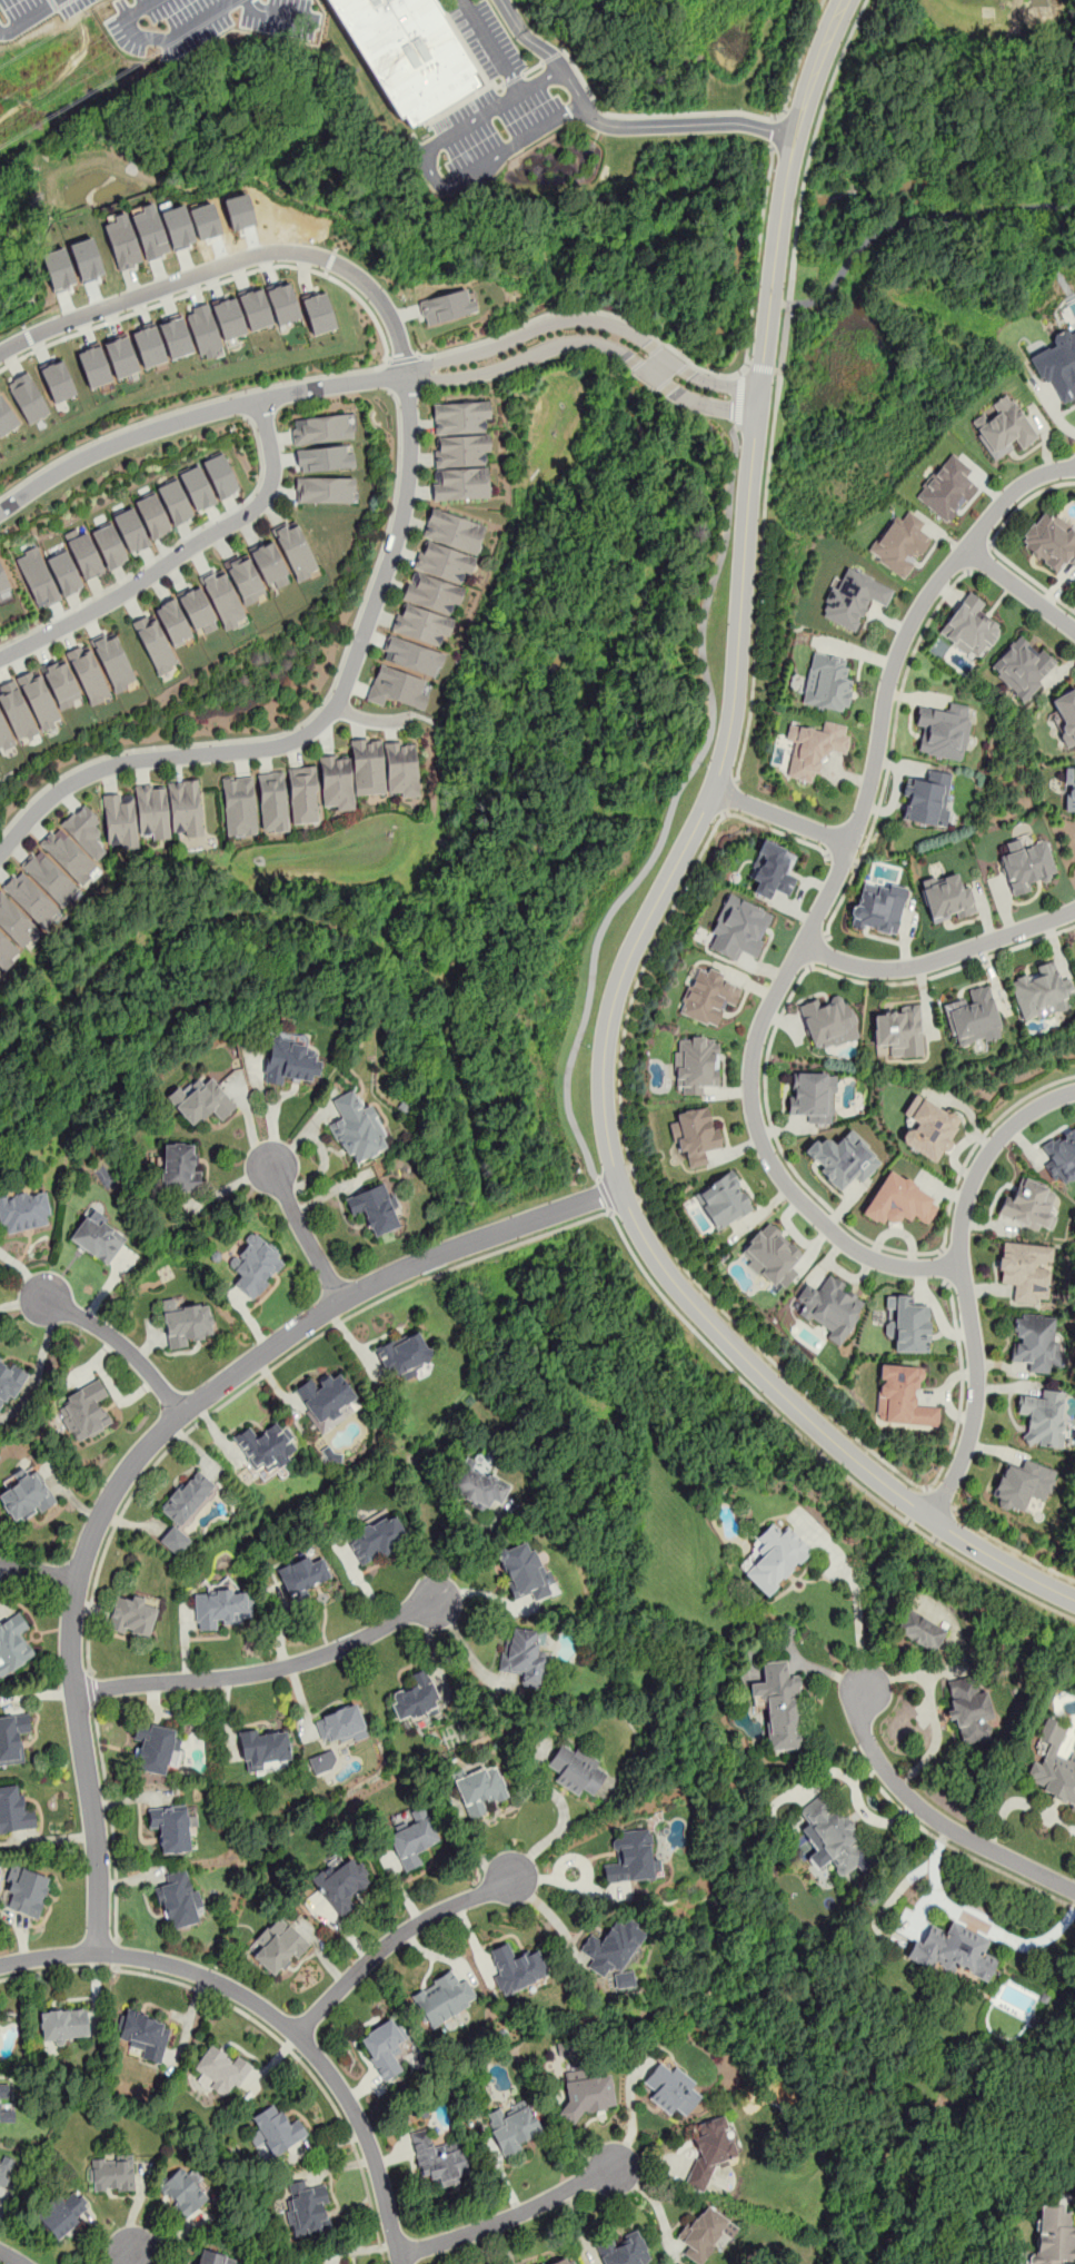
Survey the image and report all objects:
road: (137, 9)
road: (29, 17)
parking lot: (167, 22)
road: (173, 33)
road: (492, 46)
building: (407, 52)
road: (534, 67)
parking lot: (497, 99)
road: (717, 111)
road: (619, 127)
road: (777, 130)
road: (810, 148)
park: (930, 164)
road: (431, 174)
building: (176, 225)
road: (882, 226)
building: (150, 231)
building: (122, 241)
building: (86, 258)
road: (230, 261)
building: (57, 268)
road: (213, 285)
road: (753, 286)
building: (282, 303)
building: (446, 306)
building: (255, 308)
building: (318, 313)
building: (229, 317)
road: (539, 317)
building: (205, 327)
road: (529, 330)
building: (176, 336)
building: (149, 345)
road: (676, 353)
building: (121, 355)
road: (405, 357)
road: (522, 359)
road: (671, 362)
building: (1057, 364)
building: (93, 365)
road: (760, 368)
road: (741, 370)
road: (390, 376)
road: (651, 376)
building: (57, 378)
road: (725, 385)
building: (28, 397)
road: (737, 401)
road: (246, 404)
road: (713, 405)
road: (188, 407)
building: (6, 418)
building: (460, 418)
building: (1002, 427)
building: (321, 429)
building: (461, 449)
building: (325, 458)
building: (221, 476)
building: (460, 484)
building: (198, 487)
building: (946, 488)
building: (325, 491)
building: (175, 502)
building: (153, 516)
road: (400, 520)
building: (131, 530)
building: (454, 530)
building: (1049, 540)
building: (898, 542)
road: (991, 542)
building: (110, 546)
road: (165, 551)
building: (83, 552)
building: (295, 552)
road: (178, 555)
road: (978, 555)
building: (444, 562)
building: (270, 565)
building: (64, 573)
building: (37, 576)
road: (759, 577)
building: (245, 579)
building: (3, 582)
road: (1021, 587)
building: (432, 592)
building: (850, 597)
building: (222, 599)
building: (197, 609)
building: (173, 622)
building: (421, 623)
building: (971, 627)
building: (155, 643)
building: (412, 655)
building: (113, 660)
building: (1022, 669)
building: (88, 673)
building: (61, 682)
building: (826, 682)
building: (396, 689)
building: (39, 699)
building: (16, 711)
road: (310, 715)
building: (1066, 715)
road: (371, 720)
building: (944, 730)
building: (4, 734)
building: (812, 748)
road: (892, 750)
building: (368, 765)
building: (400, 768)
building: (337, 781)
building: (1069, 791)
building: (302, 793)
road: (730, 794)
building: (926, 798)
building: (272, 800)
building: (239, 805)
building: (185, 807)
building: (152, 810)
road: (669, 811)
road: (782, 815)
building: (120, 819)
building: (84, 829)
building: (69, 856)
road: (843, 861)
building: (1027, 866)
building: (770, 870)
building: (50, 877)
road: (827, 894)
building: (946, 897)
building: (31, 899)
road: (657, 899)
building: (878, 907)
building: (14, 921)
building: (738, 929)
road: (816, 949)
building: (6, 951)
road: (939, 957)
building: (1074, 961)
building: (1041, 992)
building: (708, 997)
building: (974, 1018)
building: (828, 1021)
building: (898, 1031)
building: (291, 1061)
building: (696, 1065)
building: (810, 1096)
building: (201, 1100)
building: (928, 1127)
building: (357, 1128)
road: (774, 1133)
building: (695, 1135)
building: (1061, 1156)
road: (985, 1157)
building: (844, 1158)
building: (179, 1167)
road: (614, 1173)
road: (606, 1194)
building: (723, 1199)
building: (896, 1199)
road: (626, 1203)
building: (1028, 1206)
building: (375, 1207)
building: (23, 1210)
road: (550, 1230)
road: (307, 1233)
building: (97, 1238)
road: (667, 1240)
building: (772, 1255)
building: (255, 1265)
road: (944, 1265)
building: (1024, 1271)
building: (828, 1307)
building: (186, 1322)
building: (907, 1323)
building: (1034, 1342)
road: (118, 1343)
building: (402, 1354)
building: (9, 1381)
road: (975, 1396)
building: (902, 1397)
building: (327, 1398)
building: (84, 1411)
building: (1043, 1417)
road: (153, 1439)
building: (267, 1445)
building: (1024, 1484)
building: (478, 1486)
building: (24, 1494)
road: (936, 1499)
building: (185, 1509)
building: (377, 1539)
road: (1012, 1548)
building: (773, 1558)
building: (525, 1571)
road: (39, 1572)
building: (302, 1575)
road: (855, 1590)
building: (222, 1606)
building: (132, 1615)
building: (920, 1630)
building: (13, 1644)
building: (525, 1657)
road: (260, 1672)
road: (92, 1688)
building: (415, 1698)
building: (779, 1706)
building: (969, 1711)
building: (340, 1724)
building: (12, 1737)
building: (156, 1747)
building: (265, 1748)
building: (324, 1761)
building: (1052, 1766)
building: (576, 1771)
building: (481, 1790)
road: (1021, 1803)
building: (14, 1810)
road: (929, 1815)
road: (563, 1818)
road: (110, 1821)
building: (171, 1826)
building: (832, 1837)
building: (411, 1838)
road: (949, 1842)
building: (631, 1858)
road: (577, 1860)
building: (341, 1882)
road: (564, 1884)
road: (1074, 1887)
building: (27, 1889)
building: (179, 1899)
road: (976, 1921)
road: (391, 1941)
building: (278, 1945)
building: (614, 1950)
building: (956, 1952)
road: (115, 1955)
building: (516, 1968)
building: (442, 1999)
road: (272, 2014)
road: (261, 2025)
building: (64, 2026)
building: (142, 2034)
building: (384, 2047)
building: (219, 2072)
building: (670, 2087)
building: (588, 2093)
building: (0, 2104)
road: (630, 2110)
building: (512, 2125)
building: (275, 2129)
building: (710, 2151)
building: (440, 2159)
building: (4, 2168)
building: (111, 2173)
building: (181, 2191)
road: (655, 2201)
building: (307, 2208)
building: (62, 2213)
road: (508, 2216)
building: (705, 2233)
building: (1054, 2236)
building: (625, 2250)
road: (11, 2256)
road: (128, 2256)
building: (213, 2257)
building: (565, 2261)
building: (342, 2263)

